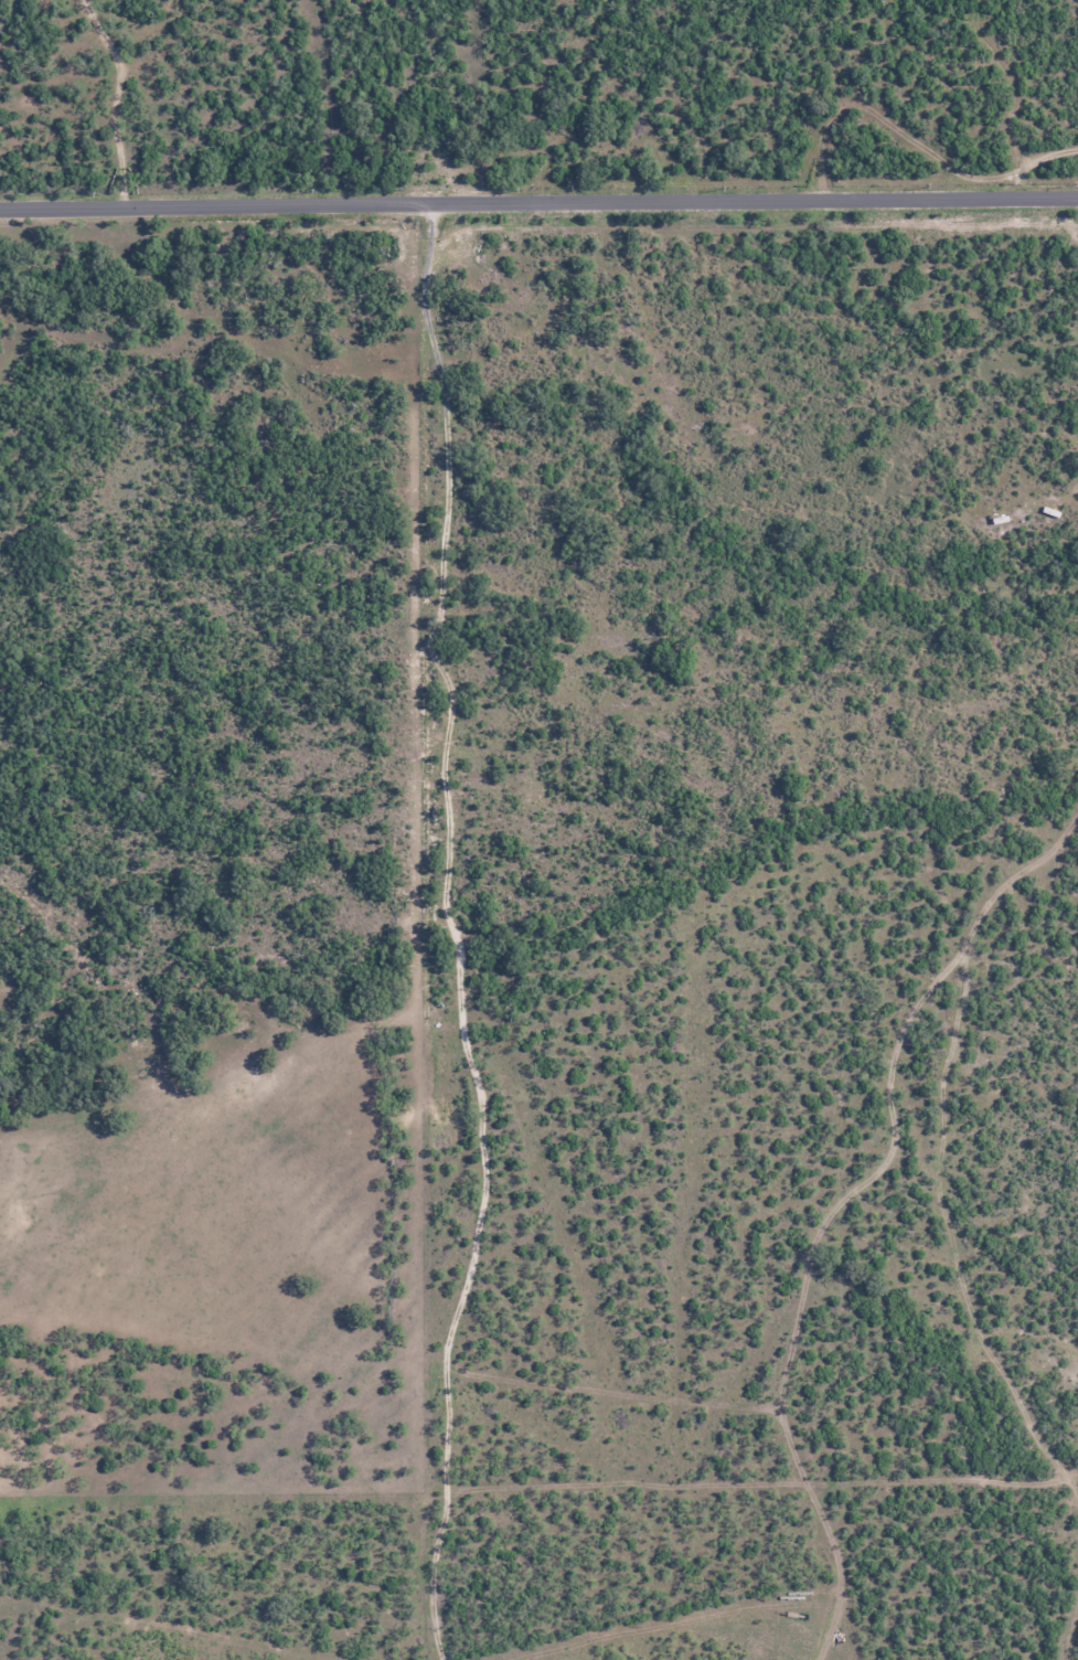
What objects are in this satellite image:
road: (538, 204)
road: (452, 934)

